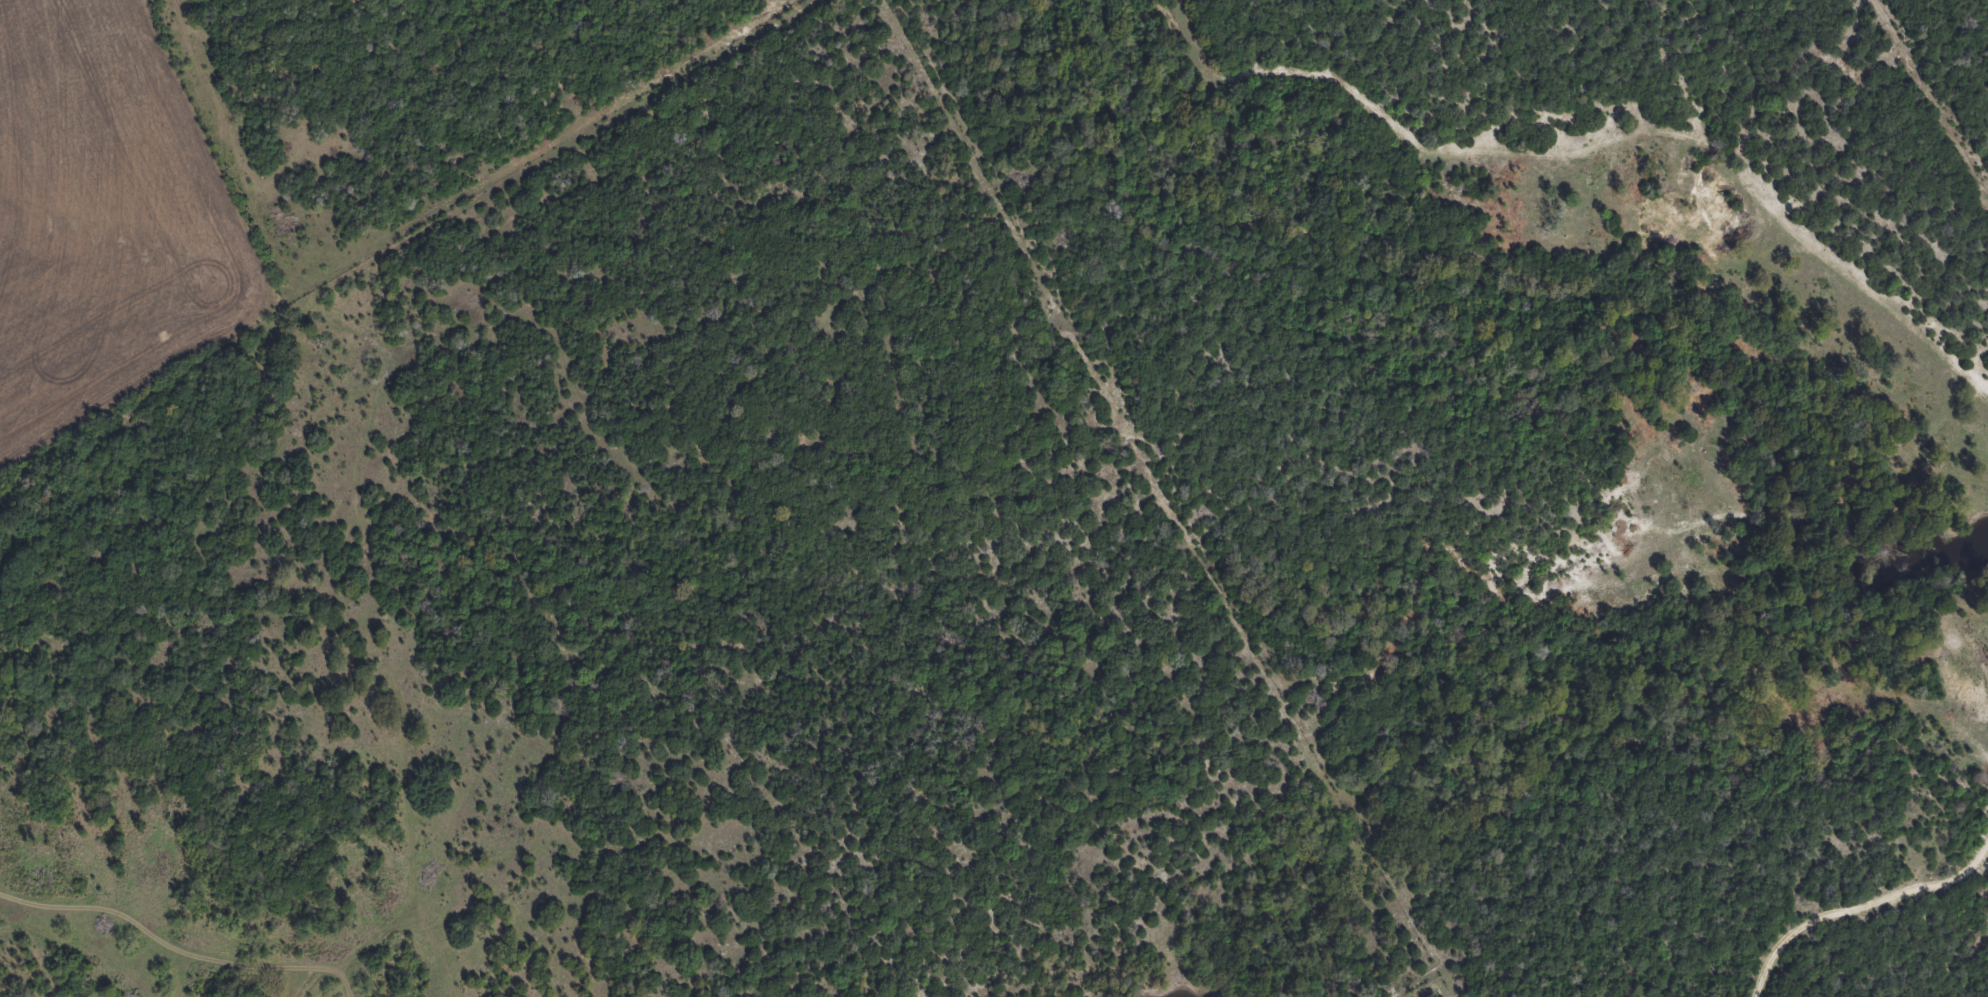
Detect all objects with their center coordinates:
road: (1849, 295)

